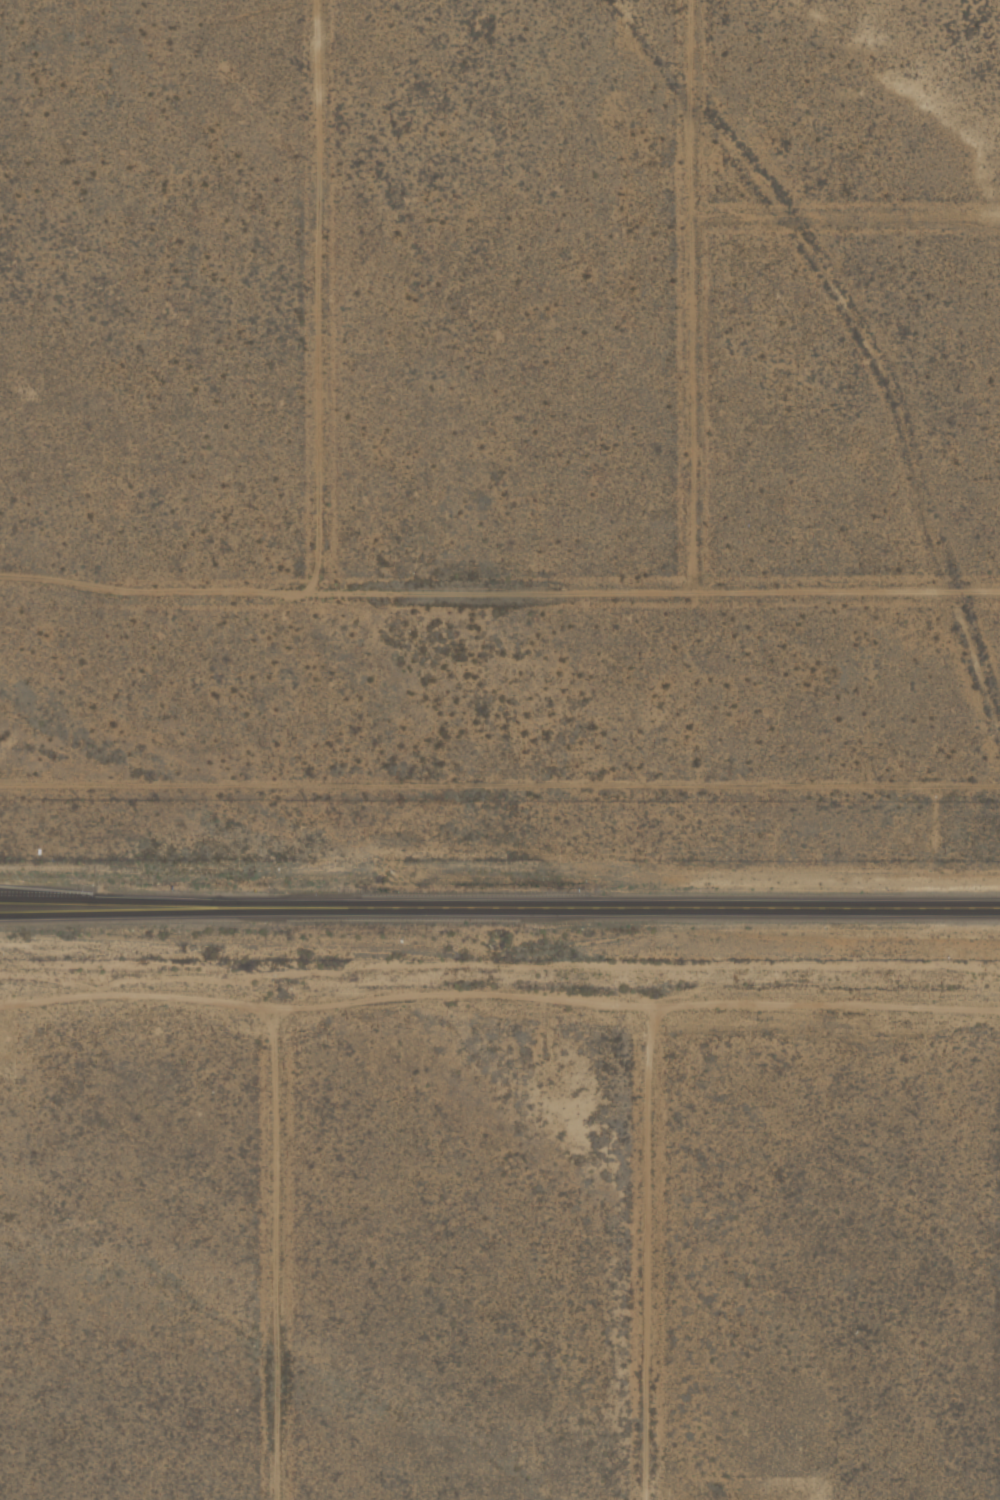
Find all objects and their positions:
road: (843, 224)
road: (685, 297)
road: (352, 598)
road: (45, 894)
road: (500, 897)
road: (501, 993)
road: (653, 1258)
road: (277, 1259)

